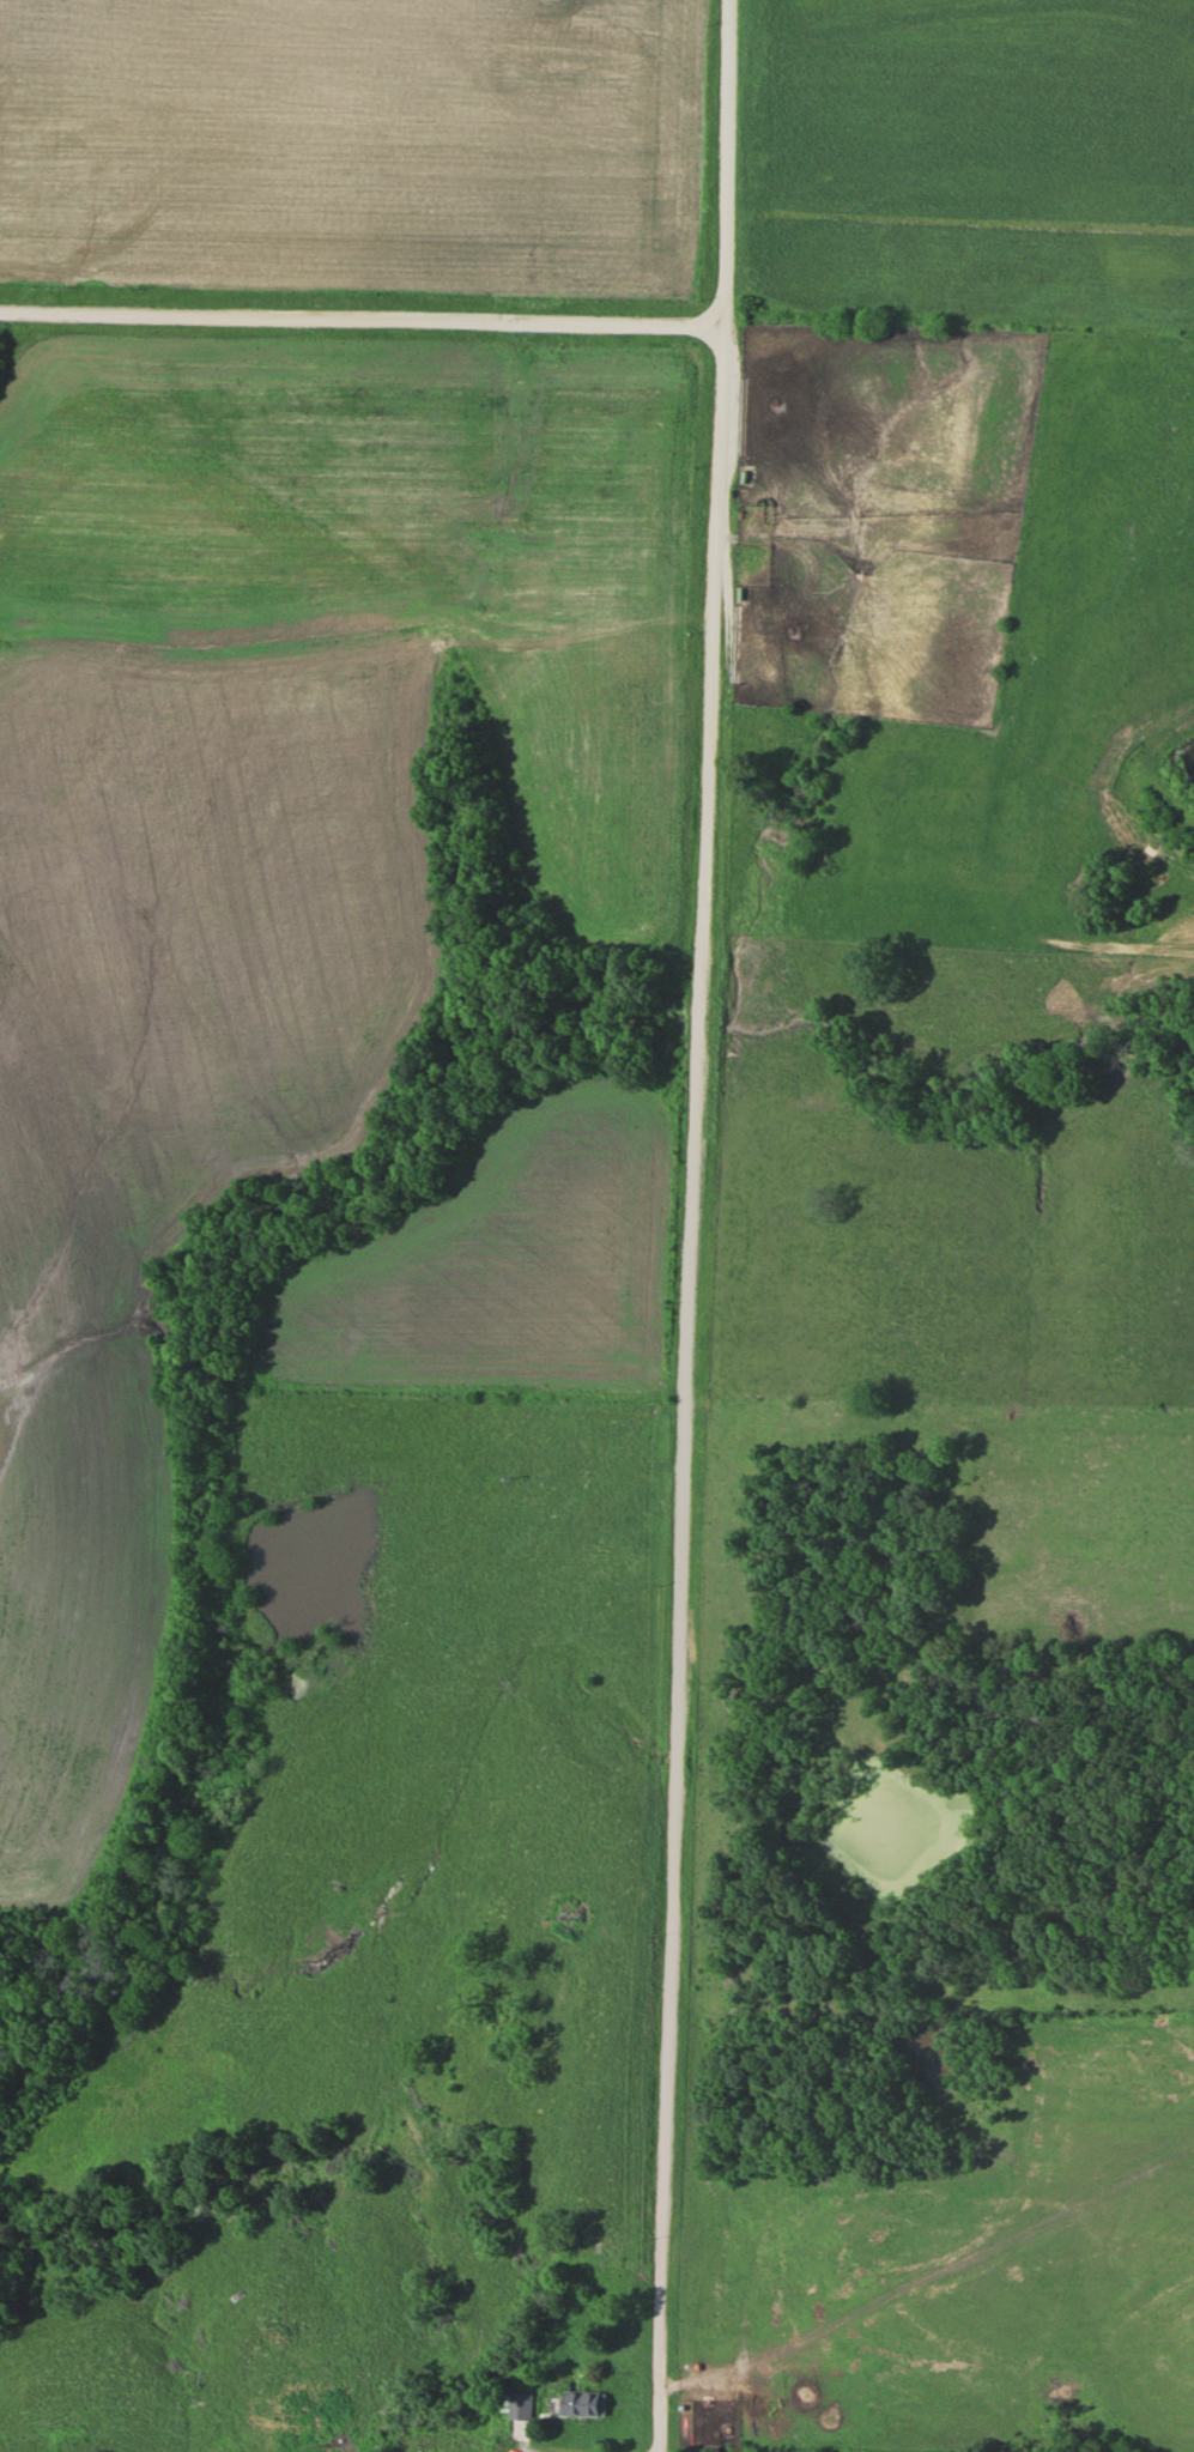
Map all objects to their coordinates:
road: (360, 317)
road: (714, 1225)
building: (588, 2404)
building: (525, 2406)

